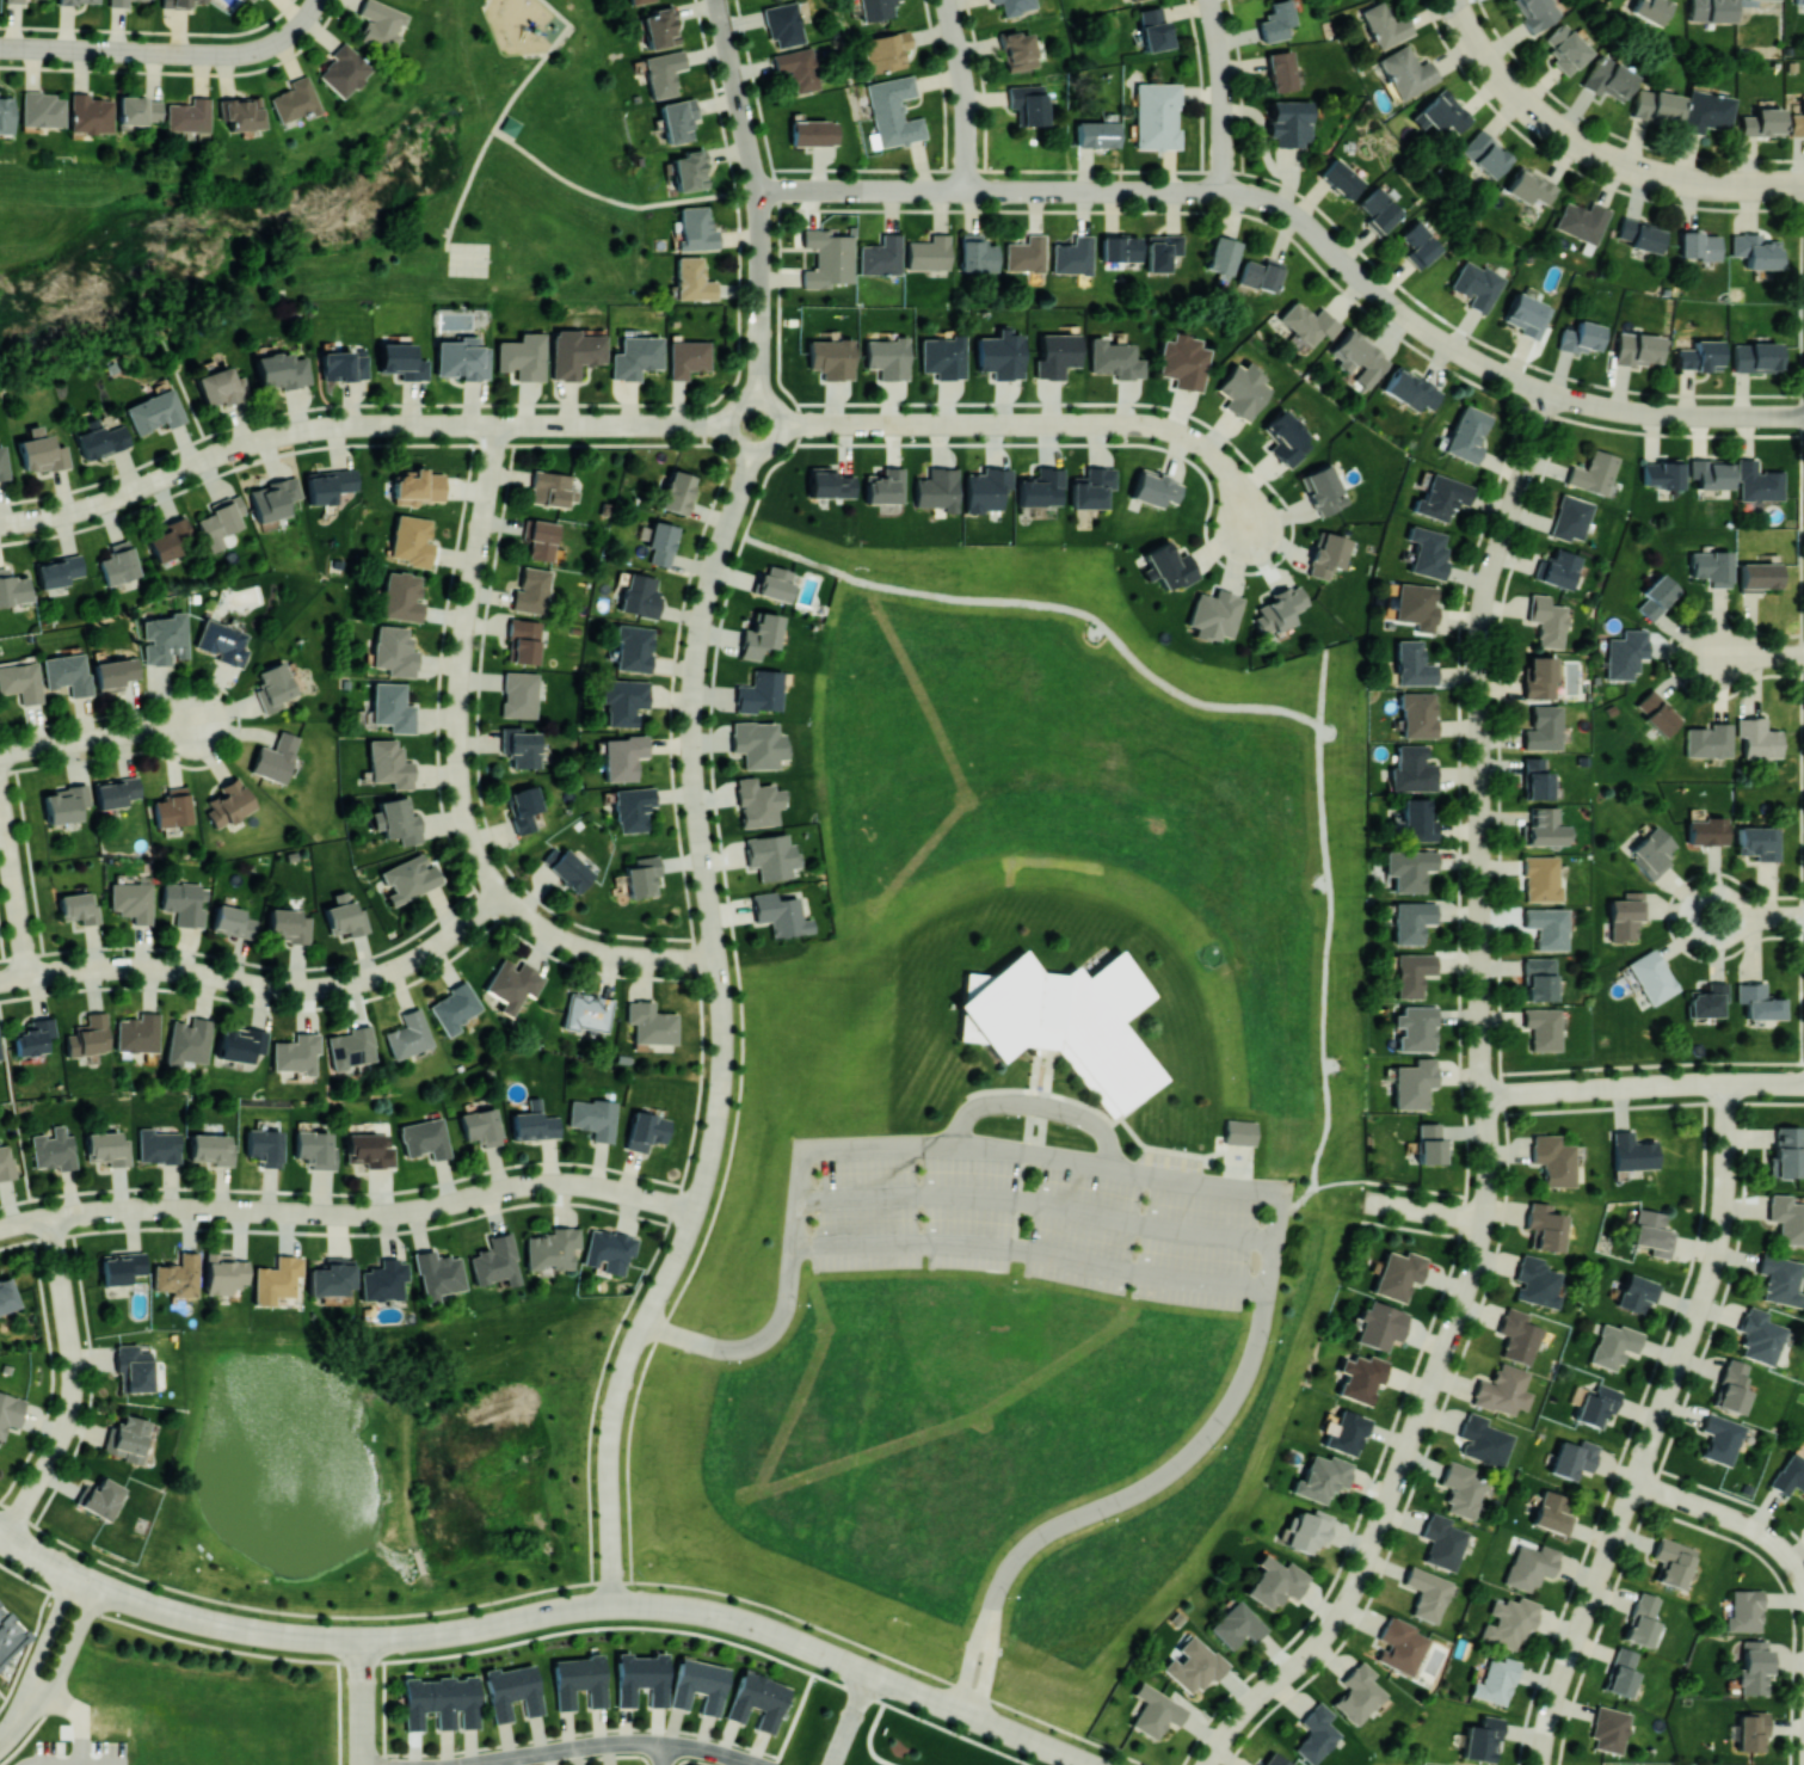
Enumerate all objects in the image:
building: (14, 0)
building: (250, 0)
building: (1131, 0)
building: (79, 1)
building: (638, 1)
building: (1798, 1)
building: (118, 2)
building: (178, 2)
building: (1015, 5)
building: (876, 8)
road: (1454, 8)
building: (1649, 10)
building: (1711, 10)
building: (1535, 12)
building: (1276, 20)
road: (1214, 21)
building: (783, 23)
building: (378, 24)
building: (1385, 24)
building: (660, 26)
building: (1153, 29)
building: (1565, 48)
building: (885, 50)
building: (1017, 50)
road: (168, 53)
road: (1480, 54)
road: (540, 61)
building: (799, 67)
building: (1282, 69)
building: (343, 70)
building: (663, 72)
building: (1406, 72)
building: (1607, 78)
road: (734, 91)
road: (963, 93)
building: (294, 99)
building: (1028, 103)
building: (1656, 105)
building: (42, 109)
building: (137, 109)
building: (893, 111)
building: (1706, 111)
building: (5, 112)
building: (242, 112)
building: (1441, 112)
building: (90, 113)
building: (189, 115)
building: (1157, 115)
road: (1223, 116)
building: (677, 118)
building: (1797, 121)
building: (1289, 122)
building: (1761, 122)
road: (1547, 123)
building: (506, 128)
building: (813, 131)
building: (1096, 134)
building: (1484, 153)
road: (546, 168)
building: (689, 170)
building: (1341, 178)
road: (1695, 180)
building: (1529, 186)
road: (755, 187)
road: (937, 189)
road: (1171, 191)
park: (338, 197)
road: (1269, 199)
building: (1379, 209)
building: (1582, 221)
building: (695, 228)
building: (1640, 234)
building: (1420, 244)
building: (1698, 245)
building: (1120, 247)
road: (761, 248)
building: (1162, 250)
building: (1756, 250)
building: (929, 252)
building: (977, 252)
building: (1026, 253)
building: (881, 254)
building: (1223, 254)
building: (1072, 256)
building: (827, 257)
park: (468, 258)
road: (1349, 266)
building: (1261, 273)
building: (692, 278)
building: (1476, 284)
building: (1526, 314)
building: (1307, 322)
road: (1428, 331)
building: (1580, 336)
building: (1637, 349)
road: (758, 351)
building: (574, 352)
building: (1000, 353)
building: (1055, 355)
building: (522, 356)
building: (635, 356)
building: (942, 356)
building: (1357, 356)
building: (1699, 356)
building: (1755, 356)
building: (688, 357)
building: (831, 357)
building: (887, 357)
building: (460, 358)
building: (1114, 358)
building: (401, 361)
building: (1183, 361)
building: (343, 365)
building: (281, 369)
building: (221, 386)
building: (1244, 389)
building: (1409, 389)
road: (664, 402)
building: (154, 411)
road: (1631, 411)
road: (728, 422)
road: (704, 423)
road: (1042, 423)
road: (429, 424)
road: (567, 424)
road: (651, 424)
road: (697, 424)
road: (780, 428)
building: (1467, 433)
road: (1802, 435)
building: (1283, 437)
building: (98, 438)
building: (41, 450)
road: (158, 455)
building: (2, 462)
road: (492, 463)
road: (179, 469)
building: (1593, 472)
building: (1661, 472)
building: (1711, 473)
road: (743, 479)
building: (1757, 481)
building: (829, 482)
building: (330, 484)
building: (415, 486)
building: (885, 486)
building: (1041, 486)
building: (550, 487)
building: (1091, 487)
building: (937, 488)
building: (986, 488)
building: (1156, 488)
building: (1322, 488)
building: (676, 491)
building: (273, 497)
building: (1441, 497)
building: (1570, 517)
building: (221, 519)
road: (729, 523)
building: (170, 539)
building: (540, 539)
building: (411, 540)
building: (660, 542)
road: (479, 543)
building: (1427, 552)
road: (1282, 554)
building: (1326, 555)
building: (118, 562)
building: (1169, 565)
building: (1711, 566)
building: (1557, 568)
building: (57, 570)
building: (1757, 576)
building: (774, 583)
building: (13, 588)
building: (531, 590)
building: (640, 595)
building: (401, 596)
building: (1656, 596)
road: (1045, 604)
building: (1416, 605)
building: (1280, 609)
building: (1214, 614)
building: (1547, 620)
building: (759, 635)
building: (165, 638)
building: (524, 639)
building: (222, 641)
building: (633, 647)
building: (394, 650)
building: (1625, 653)
road: (1759, 654)
building: (1414, 663)
road: (439, 668)
building: (67, 672)
building: (115, 672)
building: (1539, 677)
building: (21, 681)
building: (273, 687)
building: (761, 691)
building: (519, 694)
building: (623, 700)
building: (392, 707)
road: (670, 709)
building: (1656, 712)
building: (1417, 714)
road: (1482, 718)
road: (238, 719)
building: (1543, 728)
road: (100, 736)
building: (1757, 737)
building: (1707, 740)
building: (757, 743)
road: (692, 744)
building: (521, 748)
building: (622, 756)
building: (275, 757)
road: (478, 759)
building: (389, 763)
building: (1412, 769)
building: (1535, 779)
building: (116, 792)
building: (757, 801)
building: (64, 802)
building: (229, 802)
building: (523, 806)
building: (172, 807)
building: (632, 807)
building: (1417, 817)
building: (396, 819)
building: (1541, 828)
building: (1705, 831)
building: (1759, 842)
building: (1651, 851)
road: (479, 855)
building: (770, 855)
road: (29, 861)
building: (566, 867)
building: (1409, 868)
building: (641, 875)
building: (410, 877)
building: (1540, 878)
road: (13, 885)
building: (133, 899)
building: (185, 902)
building: (79, 906)
building: (780, 914)
building: (1626, 915)
road: (473, 916)
road: (1757, 916)
building: (345, 918)
road: (1329, 918)
building: (233, 921)
building: (1412, 921)
building: (289, 924)
building: (1546, 927)
road: (1, 951)
road: (424, 953)
road: (266, 964)
road: (203, 973)
building: (1412, 973)
building: (1651, 976)
building: (1538, 978)
building: (512, 983)
building: (1707, 1000)
building: (1757, 1001)
building: (454, 1007)
building: (586, 1011)
road: (722, 1017)
building: (649, 1022)
building: (1069, 1022)
building: (1416, 1027)
building: (1543, 1027)
building: (137, 1032)
building: (88, 1034)
building: (407, 1034)
building: (33, 1035)
building: (189, 1039)
building: (239, 1043)
building: (351, 1046)
building: (296, 1052)
road: (1482, 1076)
building: (1412, 1083)
road: (1643, 1086)
road: (738, 1112)
building: (593, 1117)
road: (16, 1120)
building: (534, 1123)
building: (480, 1126)
building: (645, 1130)
building: (1239, 1132)
building: (425, 1137)
building: (1429, 1142)
building: (158, 1145)
building: (265, 1145)
building: (107, 1148)
building: (211, 1148)
building: (370, 1148)
road: (712, 1148)
building: (315, 1149)
building: (54, 1150)
road: (1030, 1150)
building: (1786, 1150)
building: (1632, 1151)
building: (1552, 1158)
building: (6, 1161)
building: (1232, 1167)
road: (1135, 1168)
road: (1369, 1180)
road: (356, 1192)
road: (1035, 1203)
road: (1424, 1210)
road: (394, 1211)
road: (70, 1213)
parking lot: (1038, 1214)
building: (1786, 1218)
road: (26, 1220)
building: (1544, 1225)
building: (1652, 1232)
road: (352, 1234)
building: (552, 1248)
building: (608, 1249)
road: (679, 1252)
road: (1029, 1252)
building: (494, 1261)
building: (121, 1266)
building: (223, 1272)
building: (438, 1273)
building: (1398, 1274)
building: (177, 1275)
building: (277, 1275)
building: (331, 1277)
road: (641, 1278)
building: (383, 1279)
building: (1778, 1279)
building: (1535, 1280)
building: (1636, 1292)
building: (6, 1296)
building: (1380, 1324)
building: (1517, 1335)
building: (1757, 1335)
building: (1613, 1345)
road: (50, 1358)
building: (133, 1369)
building: (1361, 1377)
road: (74, 1383)
building: (1730, 1386)
building: (1501, 1390)
building: (1596, 1404)
building: (10, 1410)
road: (1655, 1427)
building: (1347, 1433)
building: (127, 1438)
building: (1719, 1438)
building: (1483, 1440)
road: (610, 1443)
road: (1404, 1455)
park: (383, 1456)
building: (1572, 1458)
building: (1788, 1474)
building: (1322, 1477)
building: (1461, 1489)
building: (100, 1498)
building: (1552, 1513)
road: (1729, 1517)
building: (1309, 1530)
building: (1441, 1542)
road: (36, 1552)
building: (1671, 1562)
building: (1529, 1566)
road: (85, 1579)
building: (1275, 1581)
building: (1426, 1593)
building: (1744, 1610)
road: (727, 1617)
building: (1642, 1619)
building: (1509, 1622)
road: (488, 1624)
building: (1236, 1624)
road: (226, 1625)
road: (45, 1636)
building: (1399, 1646)
road: (69, 1648)
road: (967, 1665)
building: (1193, 1665)
building: (1754, 1666)
road: (985, 1671)
building: (1621, 1672)
building: (641, 1678)
building: (578, 1680)
building: (1495, 1680)
building: (698, 1685)
building: (512, 1691)
building: (1357, 1693)
building: (441, 1701)
building: (757, 1701)
road: (361, 1702)
road: (950, 1708)
building: (1156, 1710)
road: (793, 1718)
road: (850, 1718)
road: (80, 1721)
road: (16, 1723)
building: (1609, 1728)
building: (1750, 1730)
building: (1316, 1733)
building: (1480, 1739)
road: (609, 1744)
road: (664, 1754)
building: (1274, 1759)
road: (1079, 1761)

